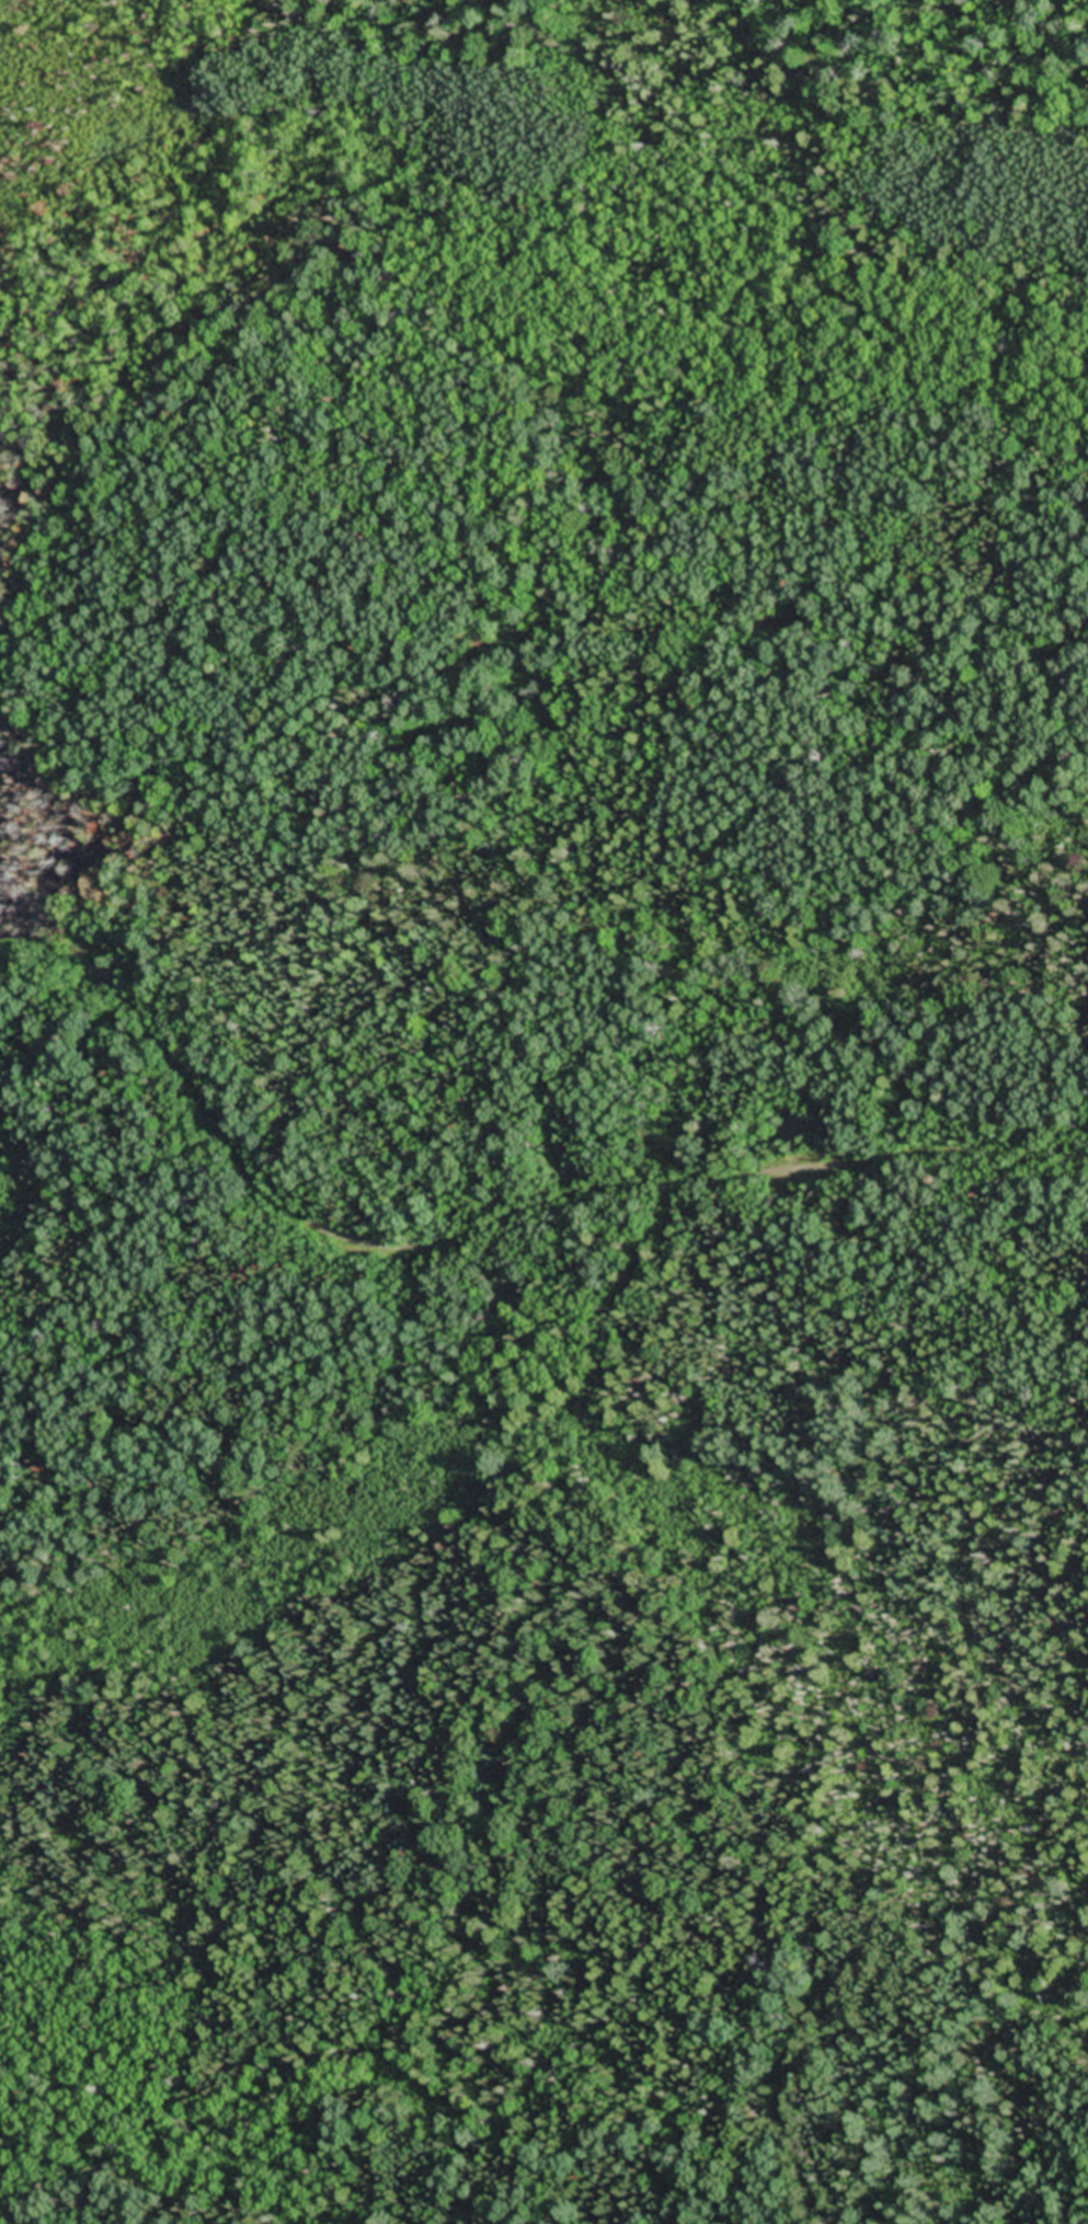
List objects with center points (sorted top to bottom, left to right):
road: (463, 1205)

